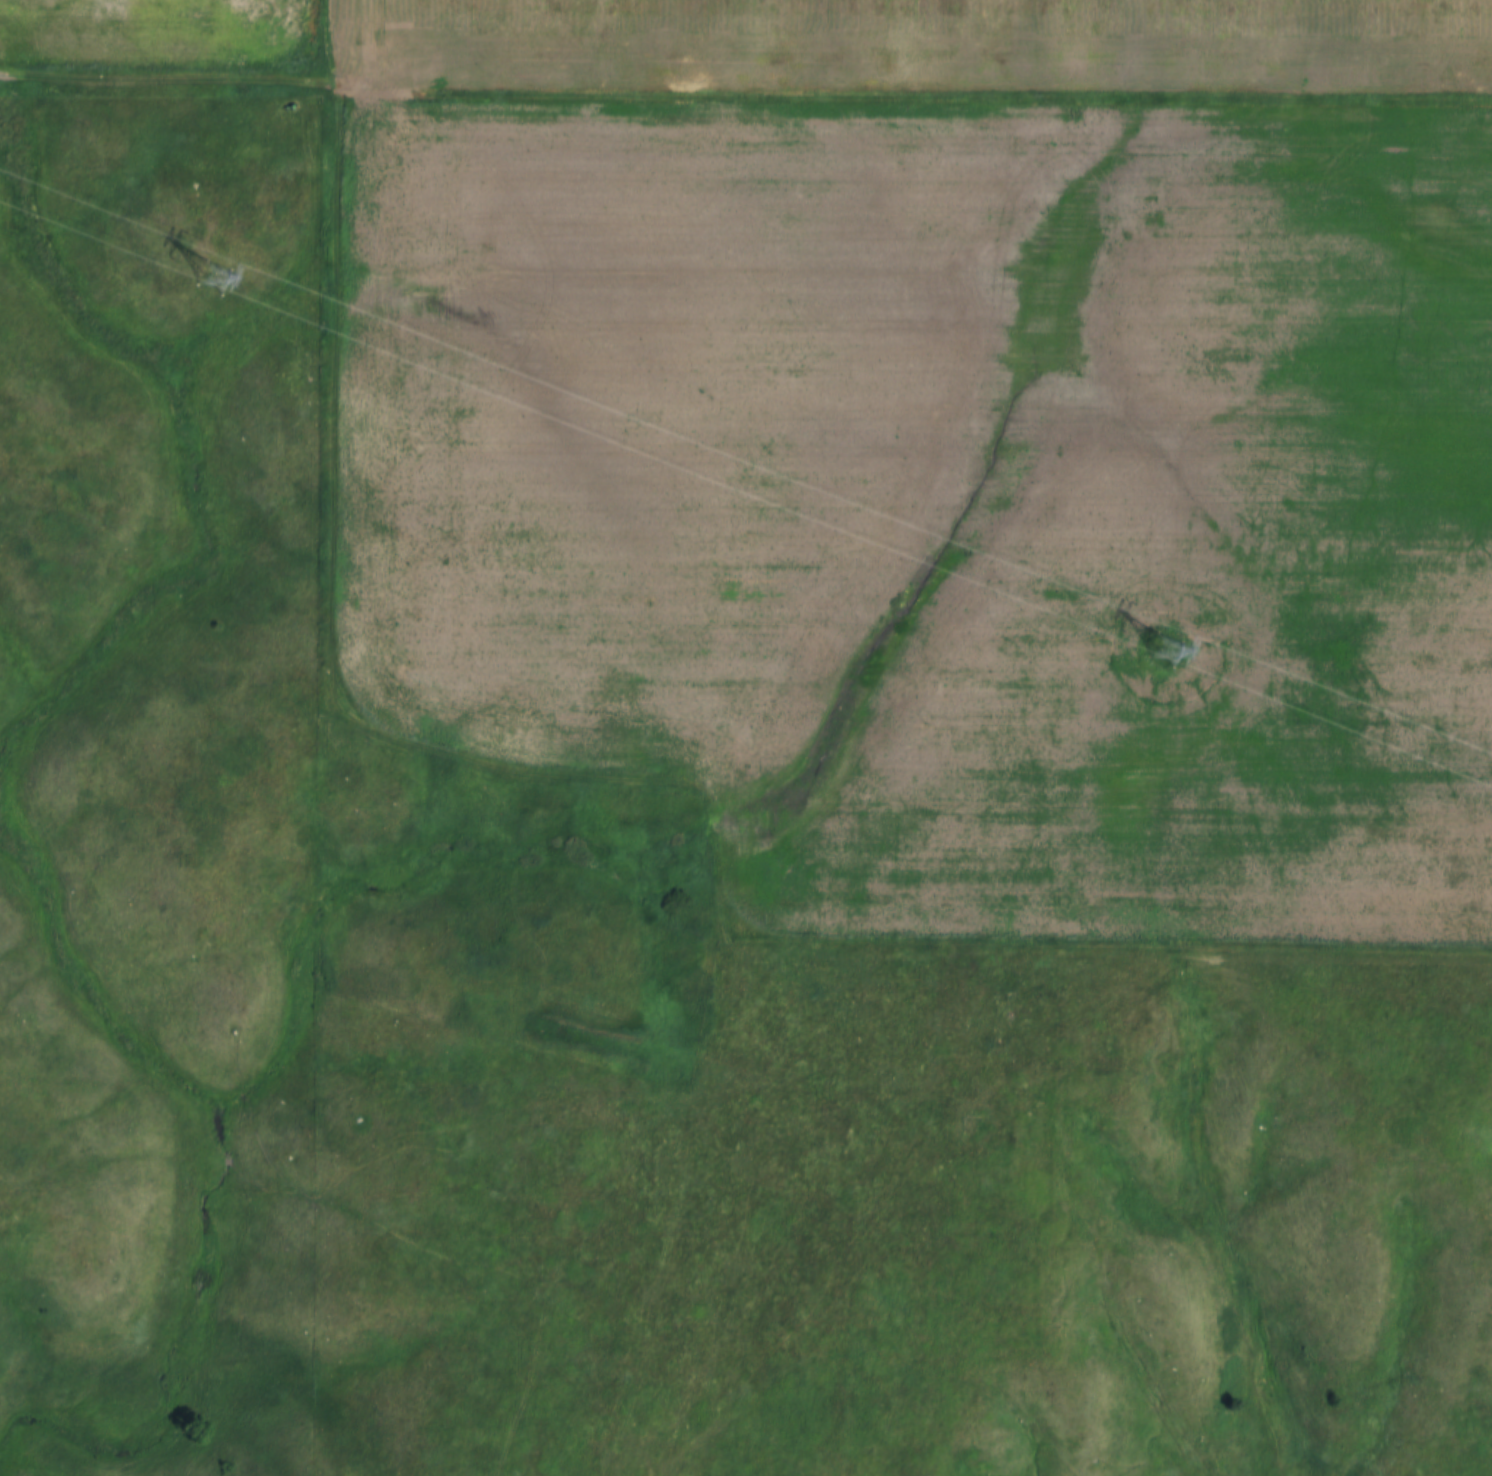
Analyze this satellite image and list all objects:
road: (743, 95)
power tower: (213, 281)
power tower: (1167, 649)

